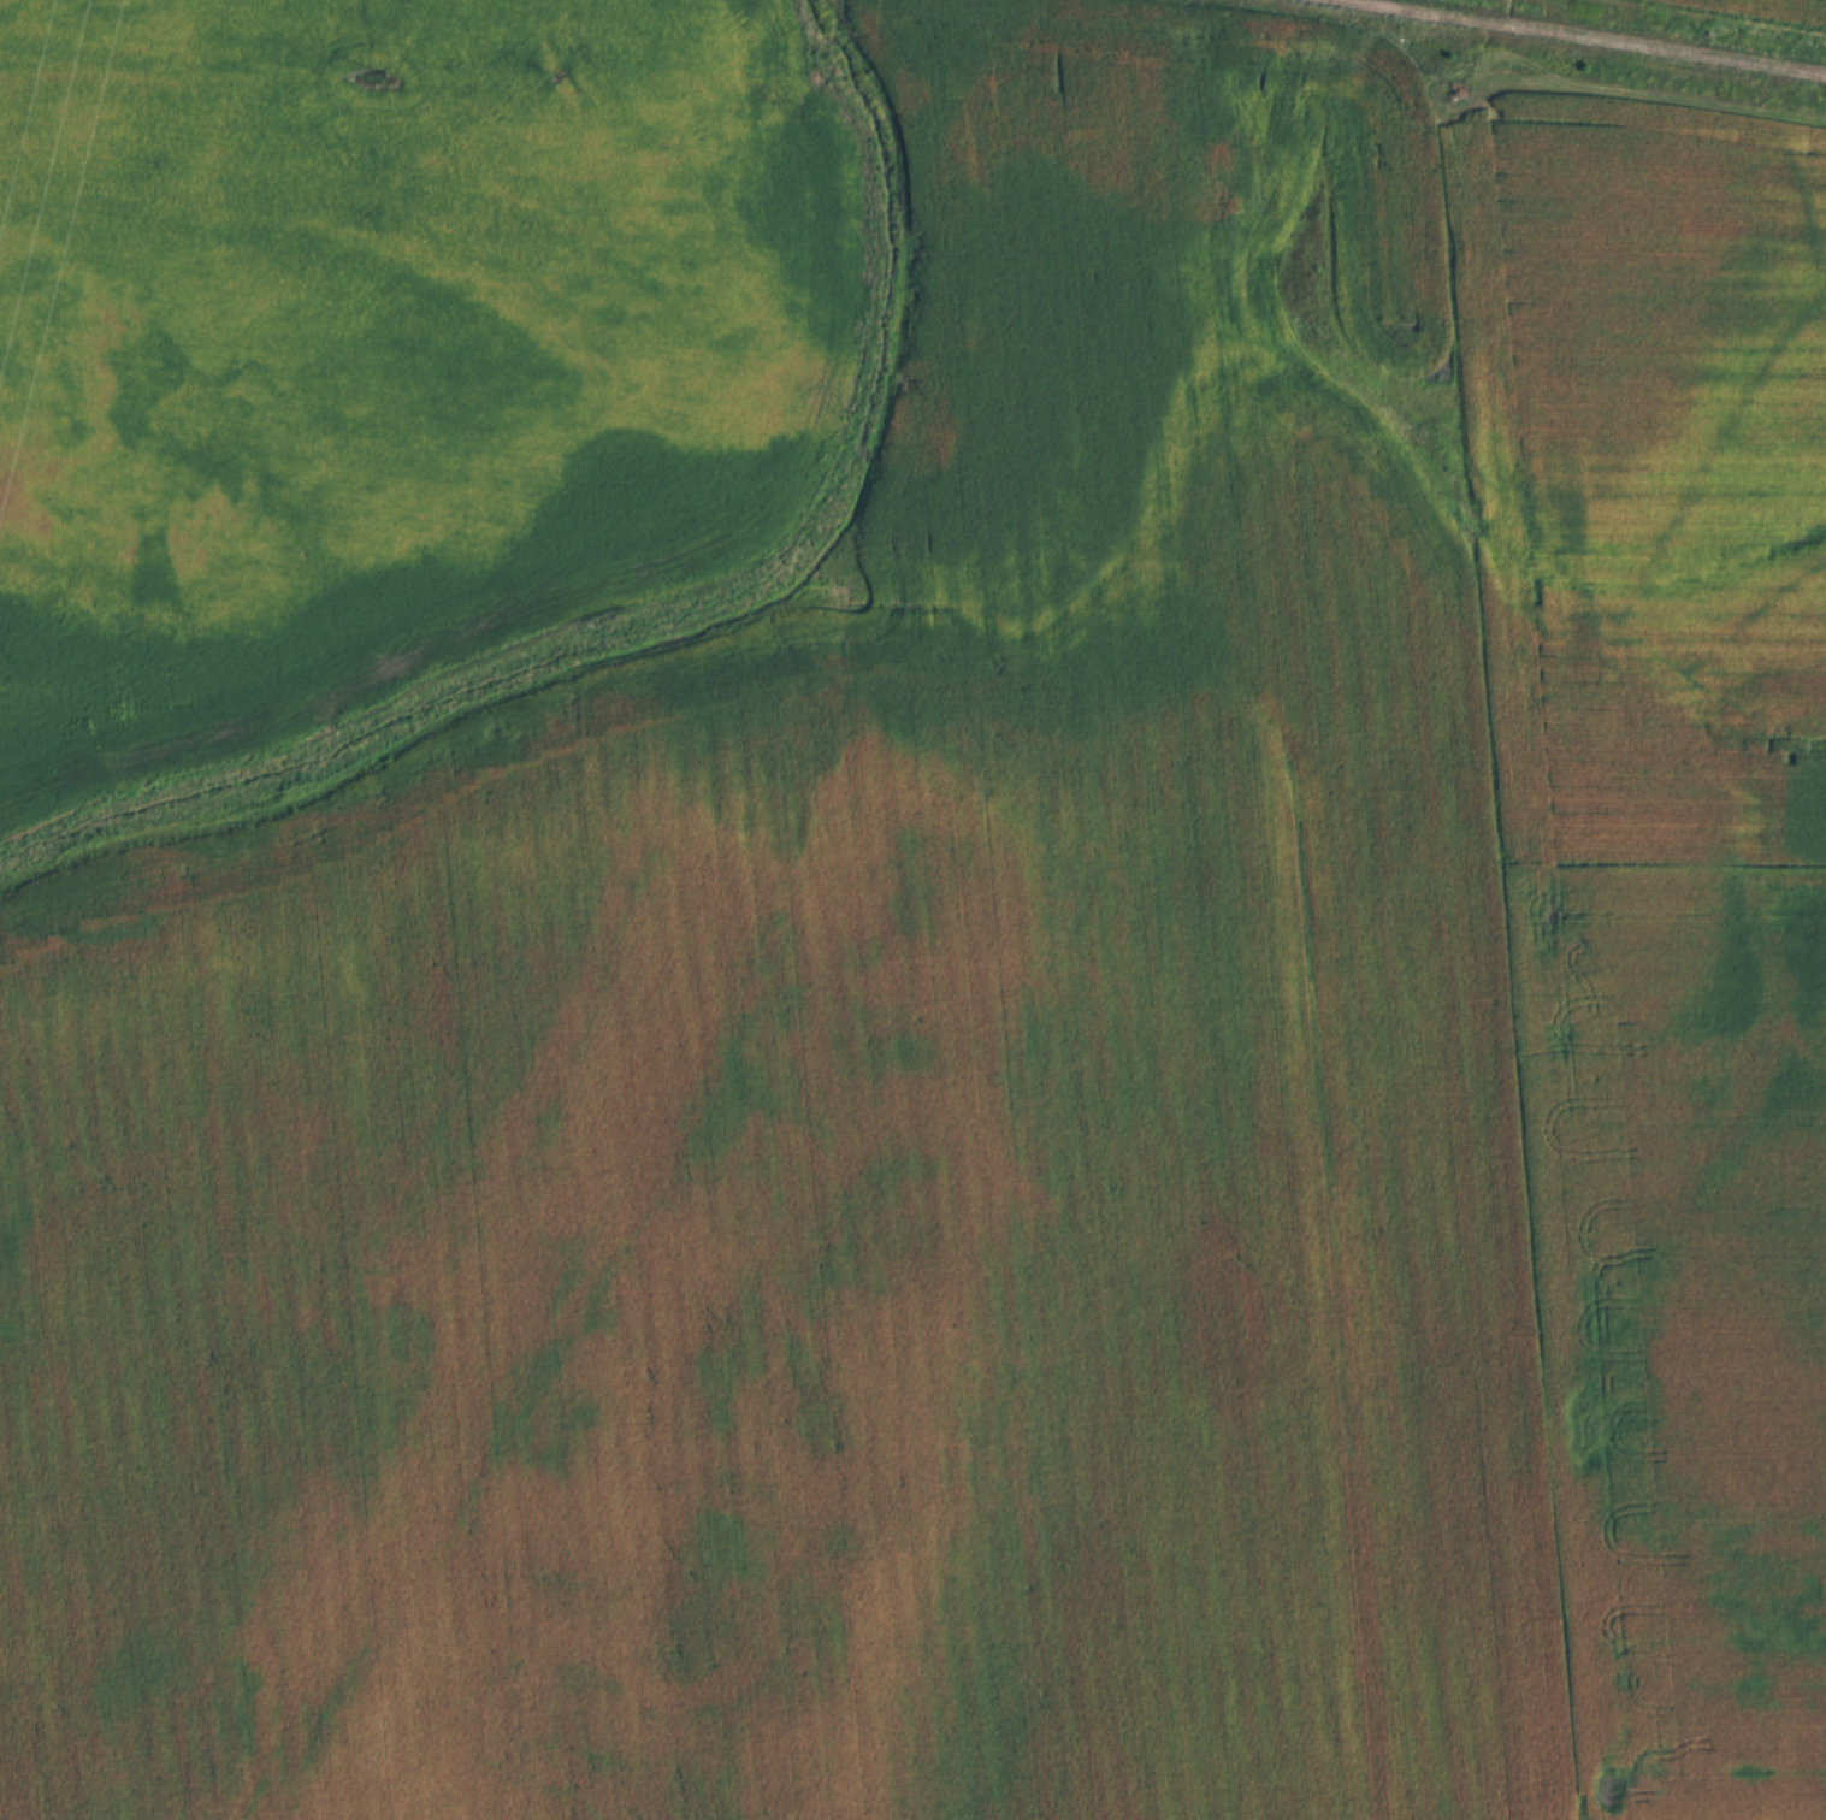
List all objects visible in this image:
railway: (1561, 43)

